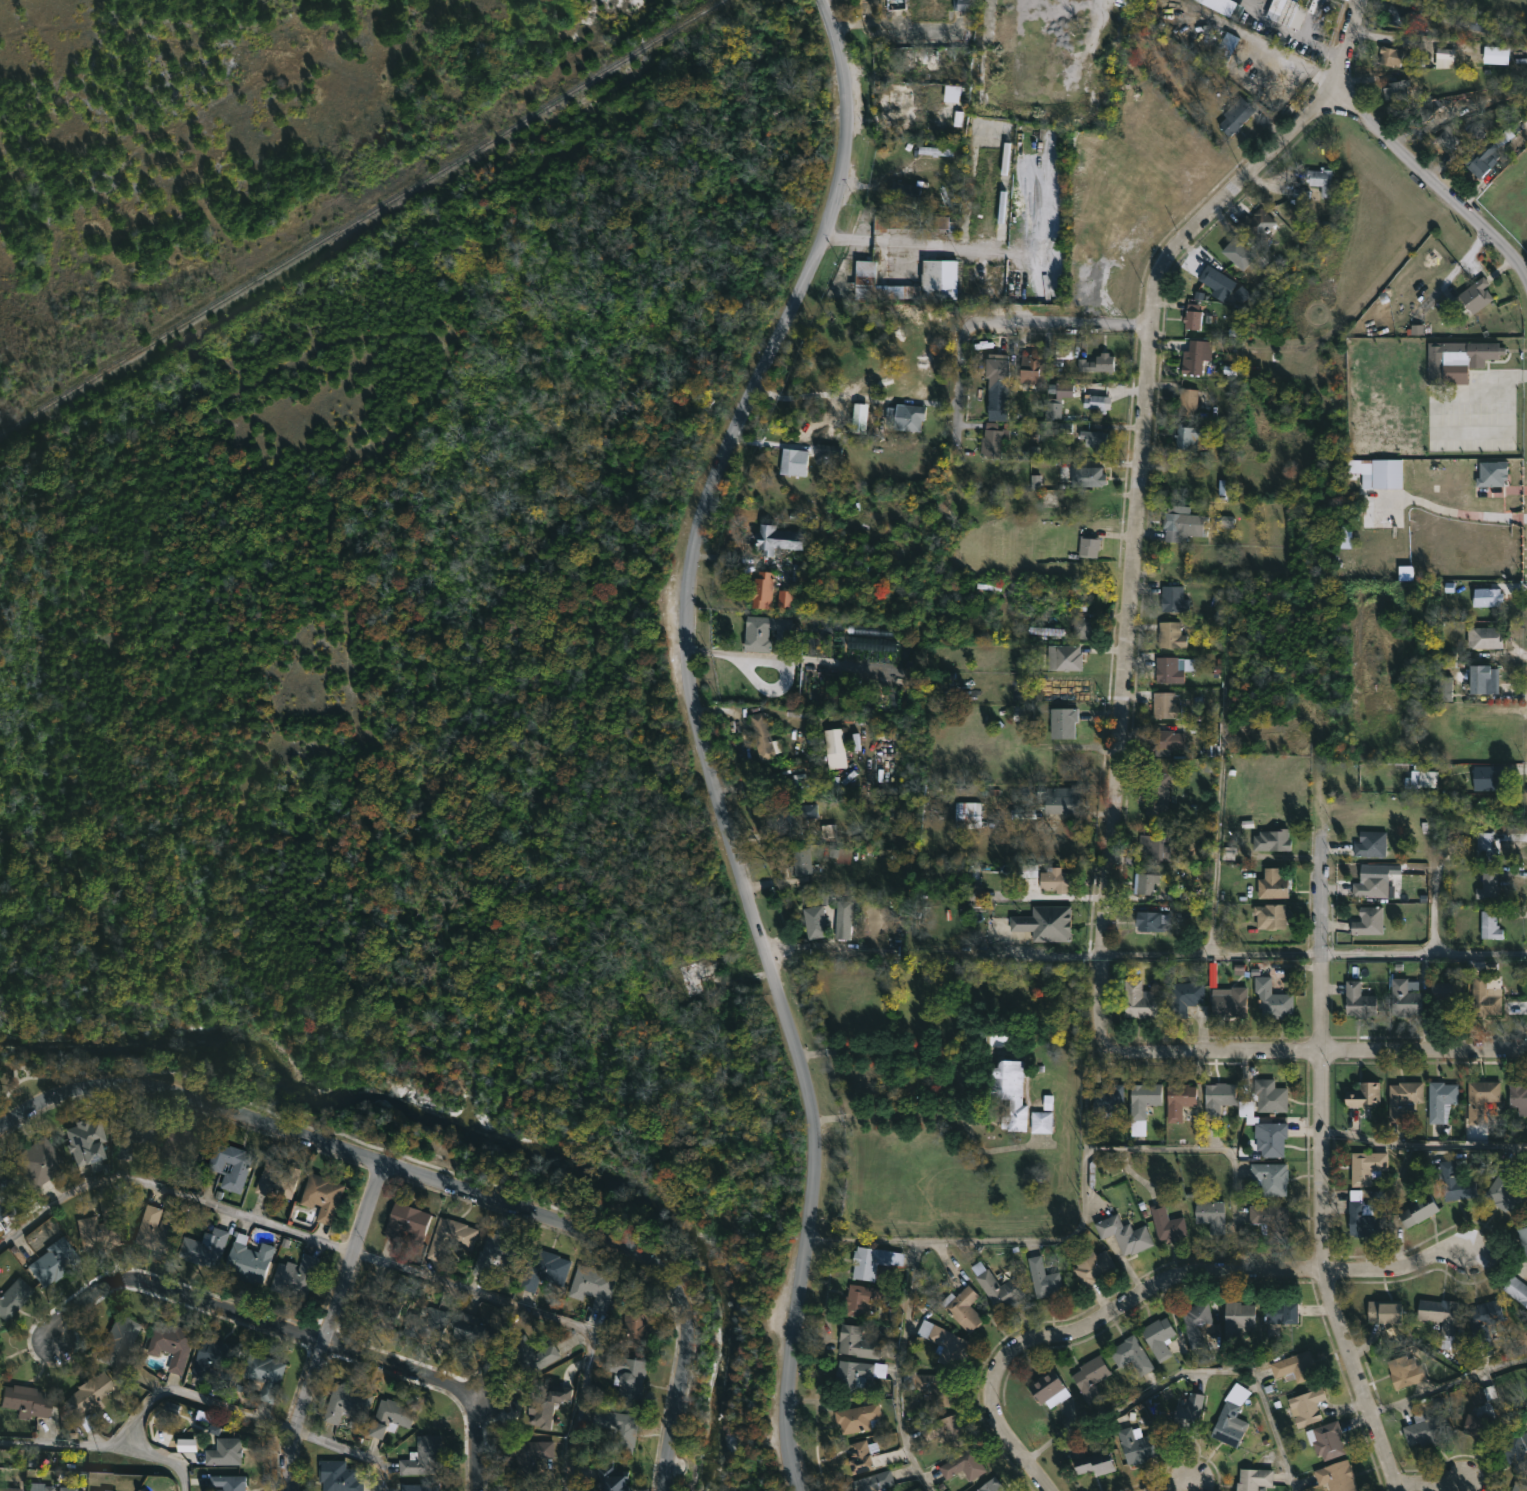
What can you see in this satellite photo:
road: (1362, 0)
building: (1435, 0)
building: (961, 4)
building: (896, 5)
building: (1225, 6)
building: (1286, 11)
building: (1400, 15)
road: (1309, 42)
building: (1390, 55)
building: (939, 57)
road: (1291, 60)
building: (1395, 85)
building: (1235, 116)
building: (1449, 140)
road: (1260, 163)
building: (1480, 163)
building: (1320, 179)
road: (1435, 183)
building: (908, 191)
railway: (360, 217)
building: (909, 223)
building: (1257, 223)
building: (1235, 253)
building: (931, 271)
building: (1215, 279)
building: (1472, 296)
building: (1191, 316)
road: (1066, 323)
building: (1458, 359)
building: (1097, 363)
building: (1192, 363)
road: (961, 368)
building: (1032, 368)
building: (996, 371)
building: (1187, 400)
building: (1097, 402)
building: (912, 416)
building: (858, 419)
building: (1188, 435)
building: (1095, 440)
building: (992, 442)
building: (826, 451)
building: (788, 461)
building: (1087, 476)
building: (1225, 488)
road: (1452, 507)
building: (1180, 523)
building: (777, 539)
building: (1088, 546)
building: (761, 588)
building: (1488, 596)
building: (1173, 599)
building: (1082, 628)
building: (762, 632)
building: (1170, 635)
building: (1485, 637)
road: (730, 651)
building: (1064, 658)
building: (1169, 669)
building: (1484, 684)
building: (1444, 688)
building: (1165, 705)
road: (1122, 714)
building: (1062, 722)
road: (698, 734)
building: (762, 738)
building: (1161, 739)
building: (834, 749)
road: (765, 776)
building: (1486, 776)
building: (1424, 779)
building: (1157, 792)
building: (1059, 798)
building: (966, 813)
building: (795, 817)
building: (1271, 840)
building: (1370, 842)
building: (1485, 847)
building: (1150, 849)
building: (801, 861)
building: (1057, 879)
building: (1144, 882)
building: (1487, 882)
building: (1272, 883)
building: (1372, 883)
building: (1270, 916)
building: (816, 919)
building: (1152, 920)
building: (1368, 920)
building: (1044, 923)
building: (1489, 925)
road: (822, 944)
road: (1252, 956)
building: (695, 974)
building: (1447, 992)
building: (1185, 995)
building: (1485, 997)
building: (1272, 998)
building: (1404, 998)
building: (1139, 999)
building: (1358, 999)
building: (1230, 1002)
road: (1339, 1045)
road: (1091, 1055)
building: (1003, 1094)
building: (1363, 1094)
building: (1269, 1096)
building: (1403, 1096)
building: (1518, 1096)
building: (1480, 1097)
building: (1143, 1098)
building: (1218, 1098)
building: (1107, 1099)
building: (1178, 1099)
building: (1440, 1100)
building: (1041, 1122)
building: (1138, 1127)
building: (87, 1135)
building: (135, 1135)
building: (1270, 1138)
road: (1421, 1144)
building: (182, 1146)
road: (1218, 1148)
building: (38, 1162)
building: (232, 1164)
road: (1317, 1167)
building: (1367, 1167)
building: (279, 1177)
building: (1270, 1177)
building: (7, 1179)
road: (443, 1182)
building: (1457, 1182)
road: (170, 1191)
building: (1506, 1194)
building: (323, 1195)
building: (1418, 1210)
building: (2, 1212)
building: (1211, 1214)
building: (1364, 1218)
building: (1271, 1221)
building: (405, 1222)
building: (1167, 1223)
building: (103, 1228)
building: (160, 1228)
building: (1123, 1233)
building: (449, 1237)
building: (1522, 1237)
road: (952, 1238)
road: (864, 1241)
building: (207, 1247)
building: (497, 1255)
building: (251, 1259)
building: (872, 1260)
building: (56, 1261)
building: (1090, 1265)
building: (542, 1268)
building: (298, 1276)
building: (1042, 1277)
building: (591, 1286)
building: (996, 1287)
road: (1155, 1289)
building: (1516, 1289)
building: (15, 1298)
building: (862, 1300)
building: (380, 1305)
building: (962, 1307)
building: (1281, 1312)
building: (1384, 1312)
road: (544, 1316)
building: (1483, 1318)
building: (1441, 1319)
building: (1238, 1320)
building: (1197, 1322)
building: (426, 1323)
road: (328, 1325)
building: (632, 1328)
building: (472, 1331)
road: (302, 1335)
building: (1159, 1336)
building: (121, 1340)
building: (856, 1341)
building: (944, 1343)
building: (174, 1344)
building: (531, 1354)
building: (1132, 1355)
building: (218, 1357)
building: (1295, 1366)
road: (1189, 1371)
building: (1405, 1372)
building: (855, 1373)
building: (267, 1374)
building: (0, 1375)
building: (627, 1375)
building: (1091, 1378)
building: (933, 1385)
road: (1443, 1385)
building: (1048, 1388)
building: (90, 1395)
road: (194, 1396)
building: (29, 1401)
building: (546, 1402)
building: (346, 1405)
building: (1306, 1405)
building: (1189, 1412)
building: (389, 1416)
building: (857, 1417)
building: (86, 1423)
building: (1228, 1425)
building: (1478, 1425)
building: (617, 1428)
building: (946, 1429)
building: (1426, 1429)
building: (1326, 1439)
building: (187, 1445)
building: (1136, 1445)
road: (104, 1447)
road: (350, 1447)
building: (1517, 1450)
building: (229, 1452)
building: (861, 1456)
building: (422, 1457)
building: (523, 1457)
building: (1096, 1462)
building: (962, 1464)
building: (336, 1476)
building: (1333, 1476)
building: (610, 1478)
building: (1254, 1479)
road: (1417, 1480)
building: (875, 1482)
building: (234, 1483)
road: (1165, 1483)
building: (991, 1486)
building: (1519, 1486)
building: (418, 1488)
building: (10, 1489)
building: (51, 1489)
building: (69, 1489)
building: (94, 1490)
building: (107, 1490)
building: (518, 1490)

